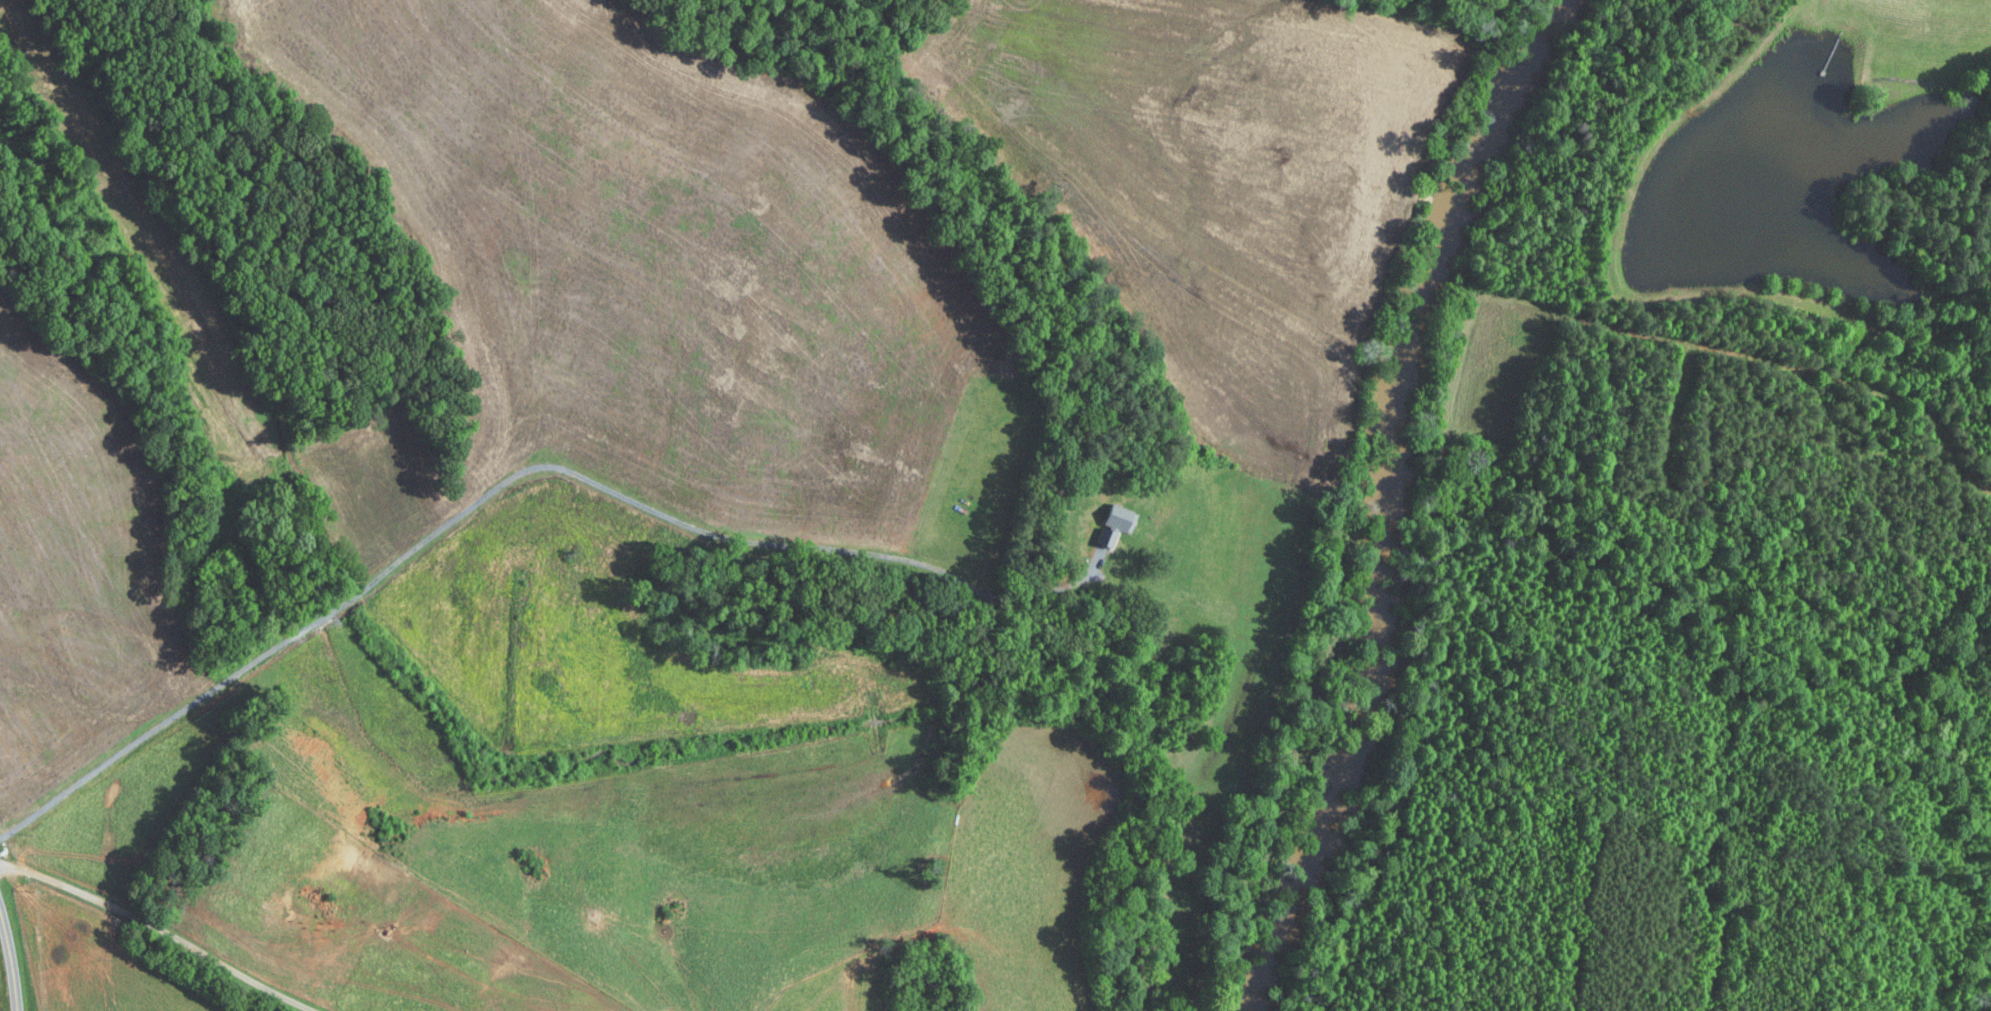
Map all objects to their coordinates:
road: (511, 477)
river: (1393, 500)
building: (1122, 517)
building: (1108, 536)
road: (161, 929)
road: (8, 971)

